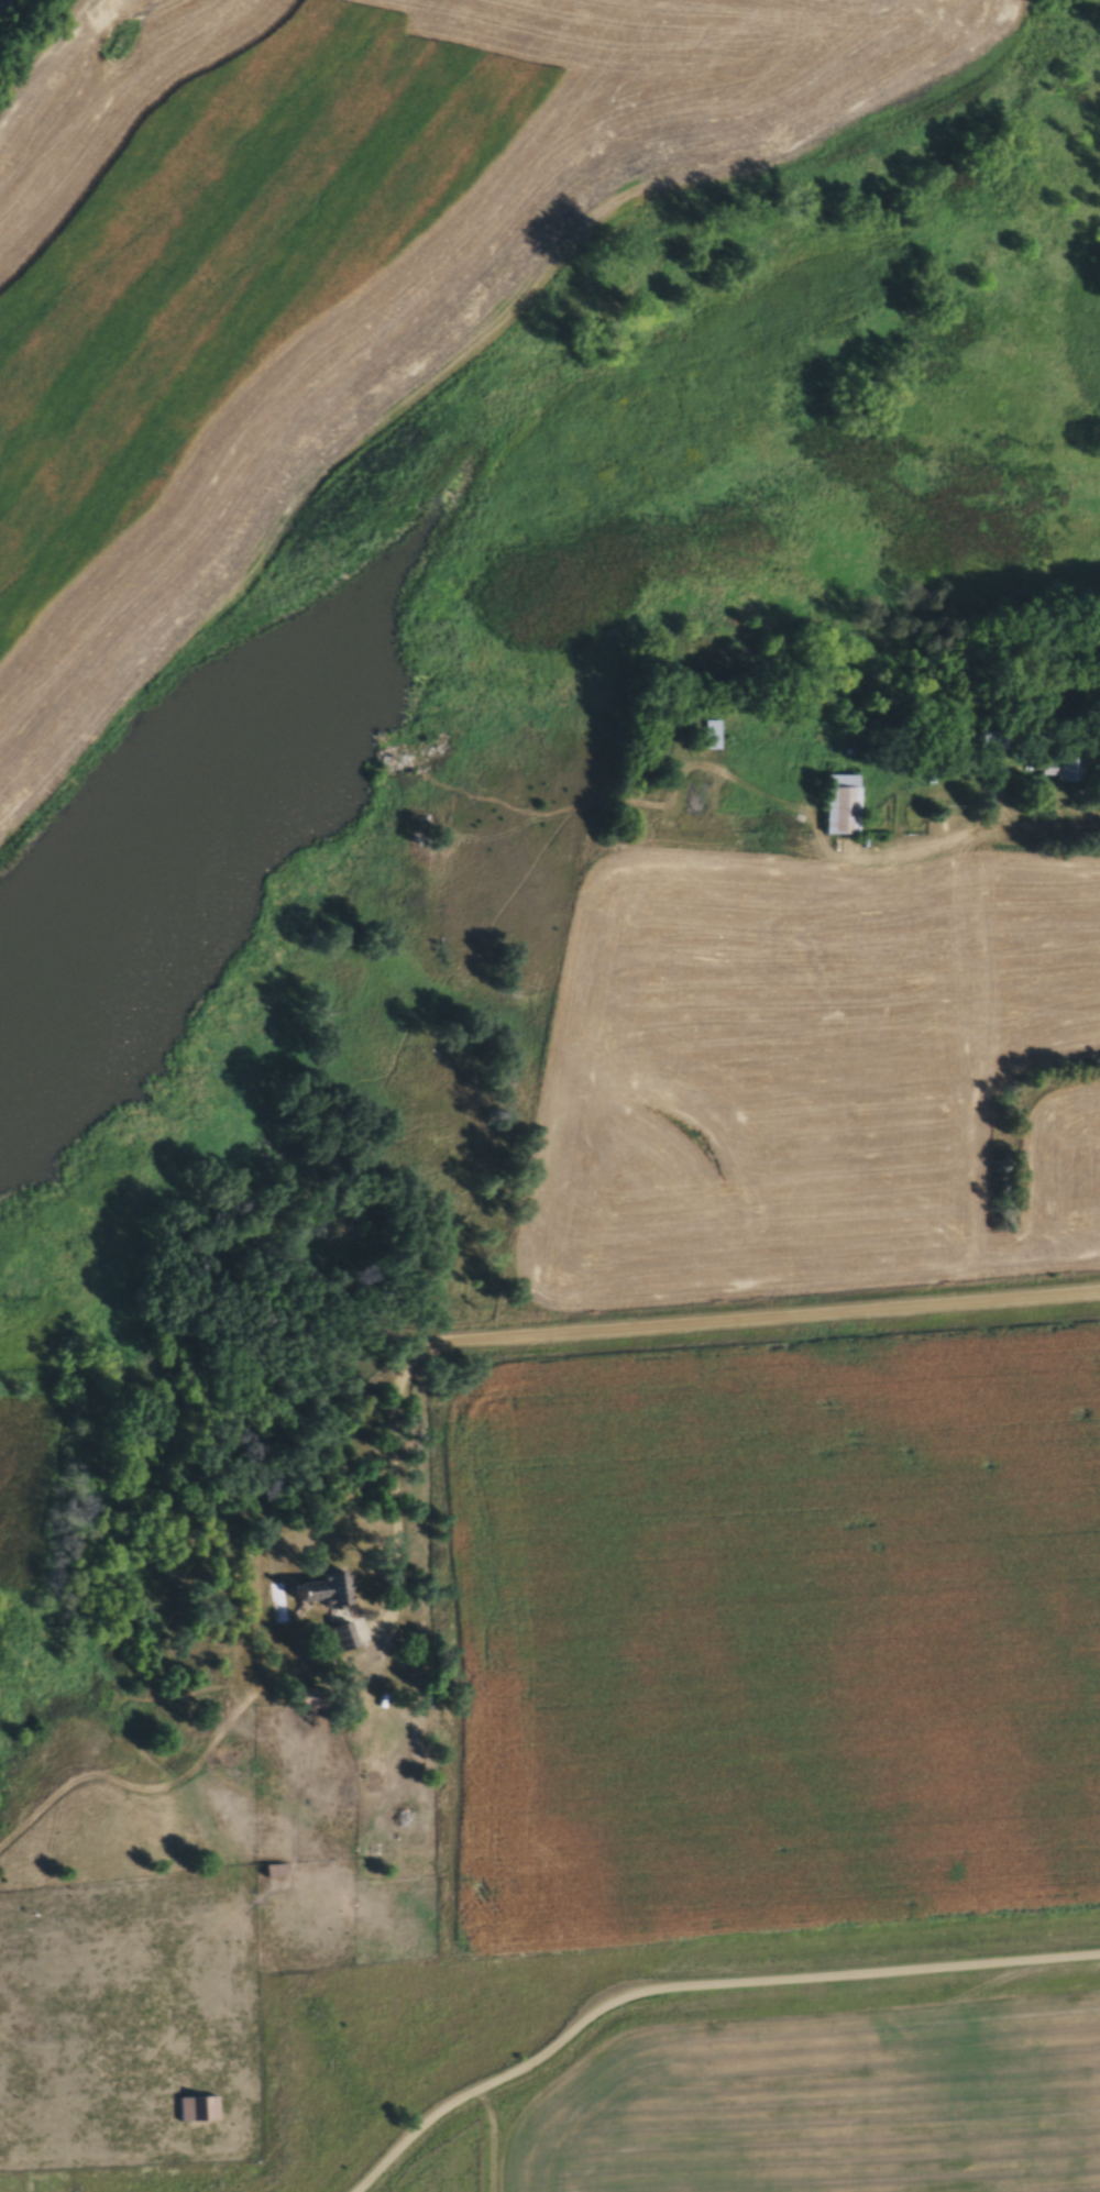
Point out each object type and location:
building: (710, 736)
building: (996, 741)
building: (1069, 770)
building: (840, 805)
road: (1044, 828)
road: (768, 1319)
road: (394, 1491)
building: (332, 1589)
building: (301, 1593)
building: (342, 1635)
building: (304, 1698)
building: (272, 1871)
road: (690, 1989)
building: (204, 2110)

